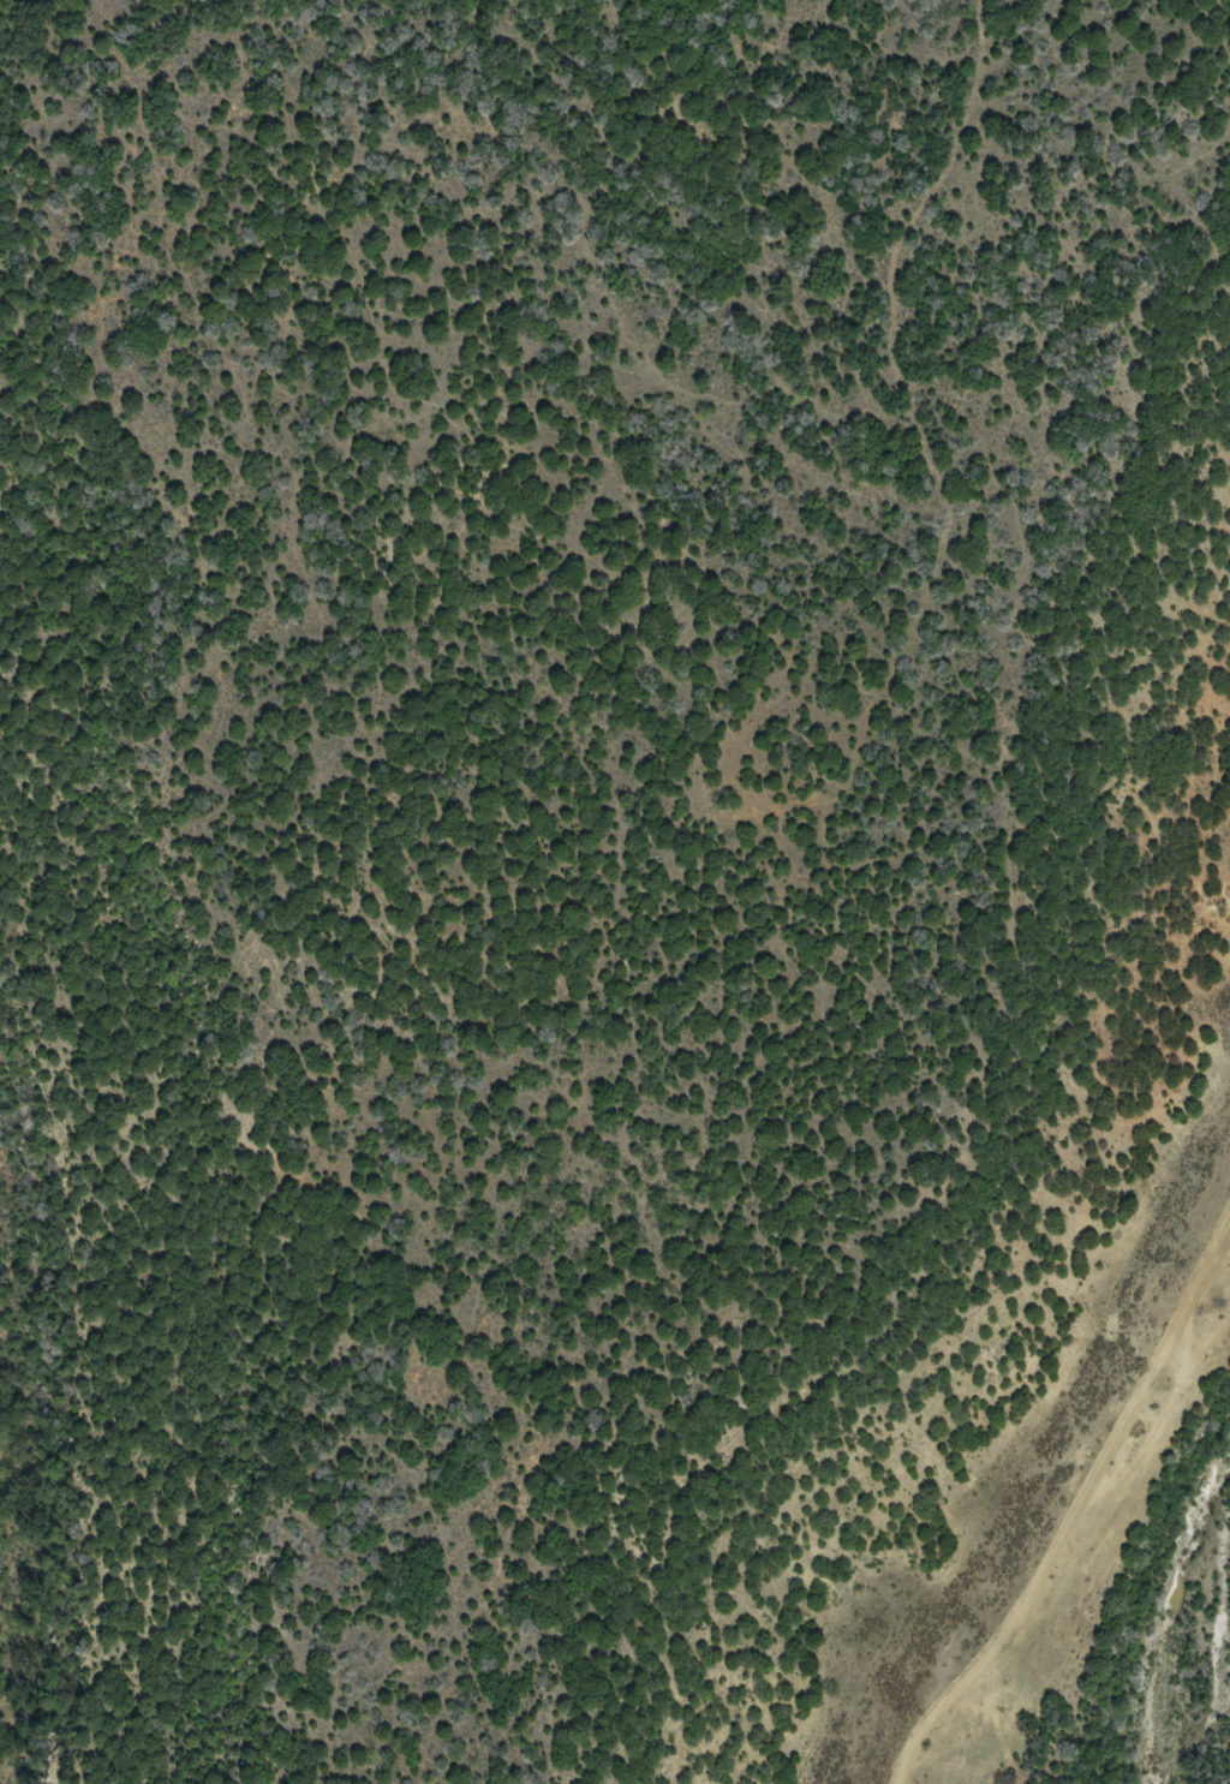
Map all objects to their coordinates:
road: (1128, 1599)

